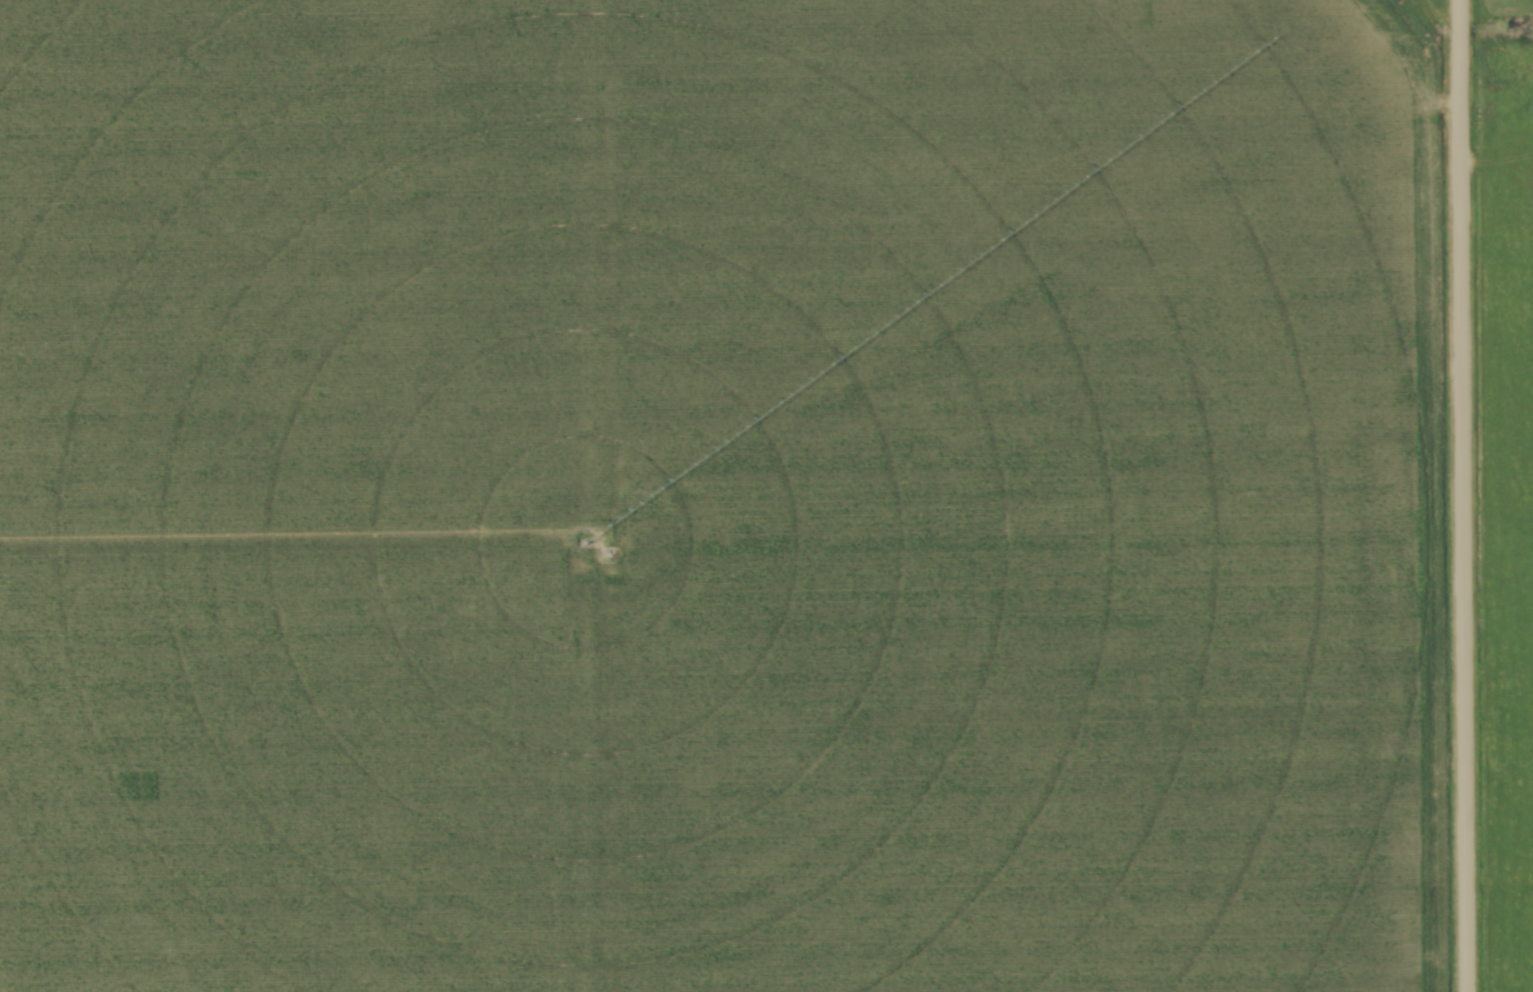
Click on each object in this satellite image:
road: (1461, 496)
crop: (719, 497)
crop: (1507, 527)

